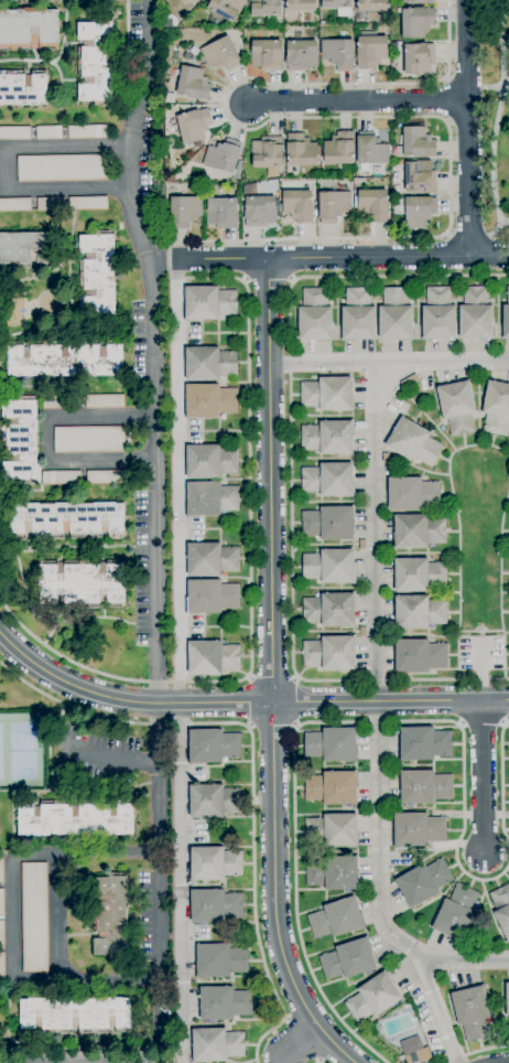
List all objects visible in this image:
building: (182, 0)
building: (183, 0)
building: (416, 1)
building: (300, 6)
building: (371, 6)
building: (337, 7)
building: (226, 8)
building: (266, 8)
building: (416, 22)
building: (167, 23)
building: (29, 30)
building: (386, 30)
road: (501, 43)
building: (194, 51)
building: (371, 51)
building: (221, 54)
building: (266, 54)
building: (337, 54)
building: (301, 55)
building: (186, 56)
building: (419, 60)
building: (96, 62)
building: (193, 83)
road: (487, 87)
building: (23, 88)
road: (354, 103)
park: (495, 115)
road: (364, 117)
building: (193, 126)
road: (465, 128)
building: (87, 131)
building: (50, 132)
building: (14, 133)
building: (415, 143)
building: (339, 149)
building: (370, 150)
building: (300, 151)
building: (267, 154)
road: (494, 154)
building: (223, 155)
building: (238, 165)
building: (62, 168)
road: (4, 170)
building: (420, 178)
building: (199, 187)
building: (249, 190)
building: (87, 203)
building: (332, 203)
building: (14, 204)
building: (50, 204)
building: (373, 204)
building: (299, 205)
building: (184, 211)
building: (220, 211)
building: (259, 211)
building: (415, 211)
road: (497, 226)
road: (468, 234)
building: (23, 247)
road: (343, 257)
building: (98, 275)
road: (361, 277)
road: (268, 281)
building: (208, 303)
building: (438, 314)
building: (476, 314)
building: (358, 315)
building: (396, 315)
building: (315, 316)
building: (506, 316)
road: (152, 348)
building: (65, 358)
road: (389, 362)
building: (209, 364)
building: (327, 394)
building: (105, 401)
building: (209, 401)
building: (57, 402)
building: (457, 408)
building: (496, 408)
building: (20, 439)
road: (47, 439)
building: (89, 439)
building: (328, 439)
building: (414, 443)
building: (210, 461)
road: (249, 472)
building: (61, 477)
building: (107, 477)
building: (328, 480)
building: (412, 494)
building: (210, 498)
building: (68, 519)
building: (328, 524)
building: (418, 531)
road: (290, 552)
road: (480, 552)
building: (212, 559)
building: (329, 567)
building: (419, 575)
building: (82, 583)
building: (210, 597)
building: (329, 610)
building: (419, 613)
building: (329, 653)
building: (420, 656)
building: (212, 657)
road: (64, 658)
road: (178, 661)
road: (480, 668)
road: (271, 673)
road: (272, 677)
road: (436, 680)
road: (249, 702)
road: (296, 702)
road: (245, 704)
road: (78, 710)
road: (377, 713)
road: (272, 727)
building: (424, 743)
building: (332, 744)
building: (213, 747)
park: (21, 751)
road: (112, 755)
road: (481, 776)
road: (463, 781)
road: (501, 781)
building: (424, 787)
building: (332, 788)
building: (214, 801)
building: (75, 818)
road: (158, 828)
building: (419, 829)
building: (333, 830)
building: (214, 863)
road: (253, 863)
building: (0, 869)
building: (333, 873)
road: (294, 874)
building: (423, 882)
building: (0, 901)
building: (214, 906)
building: (501, 909)
building: (456, 913)
building: (111, 916)
building: (34, 917)
building: (336, 919)
road: (12, 926)
building: (1, 945)
building: (348, 959)
building: (220, 960)
building: (373, 998)
building: (507, 998)
building: (224, 1003)
road: (437, 1010)
building: (472, 1012)
building: (75, 1016)
road: (302, 1043)
building: (216, 1045)
building: (411, 1045)
road: (477, 1053)
road: (446, 1062)

